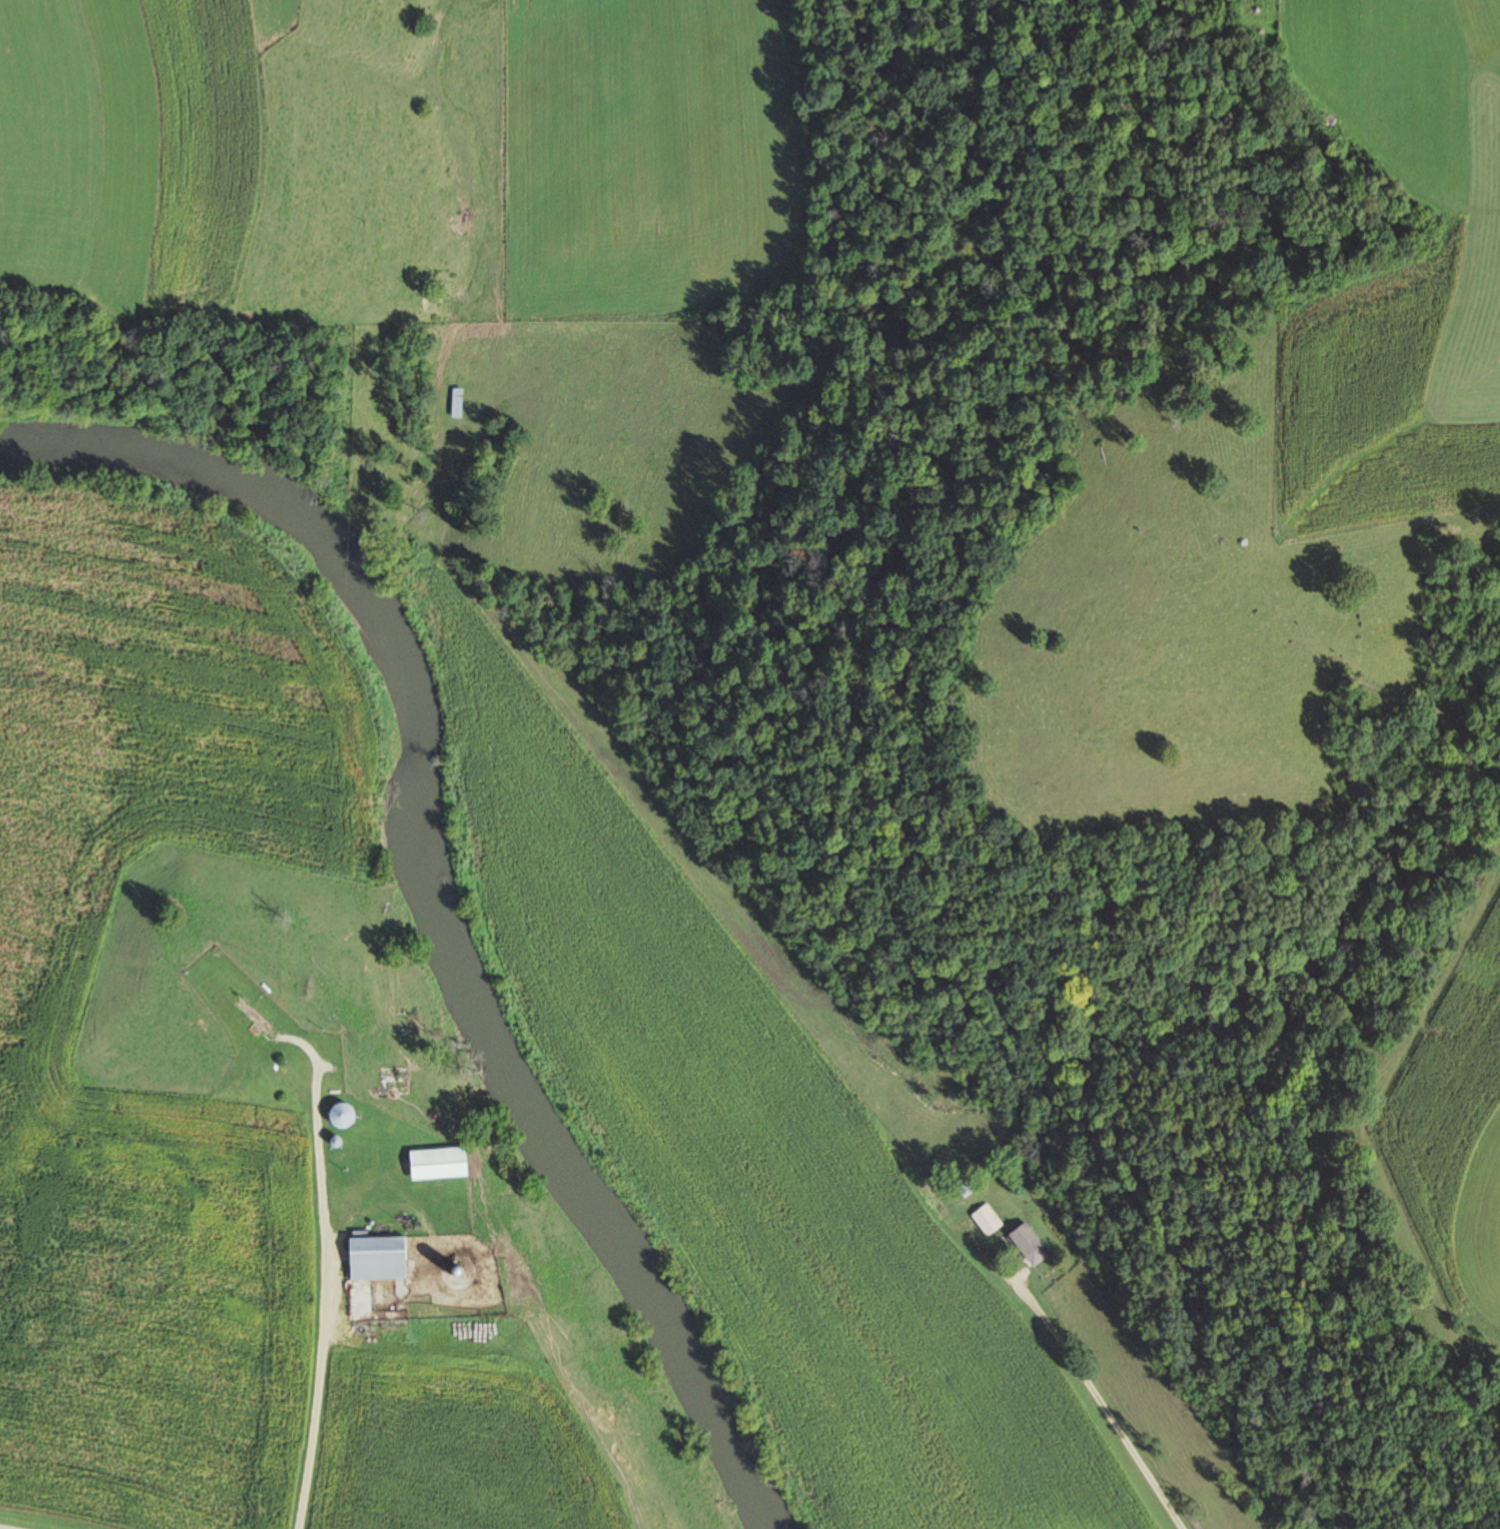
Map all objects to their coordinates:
building: (456, 403)
river: (428, 892)
building: (252, 1016)
building: (338, 1114)
building: (435, 1163)
building: (963, 1185)
building: (985, 1219)
building: (1024, 1241)
building: (375, 1258)
road: (314, 1345)
road: (1073, 1372)

